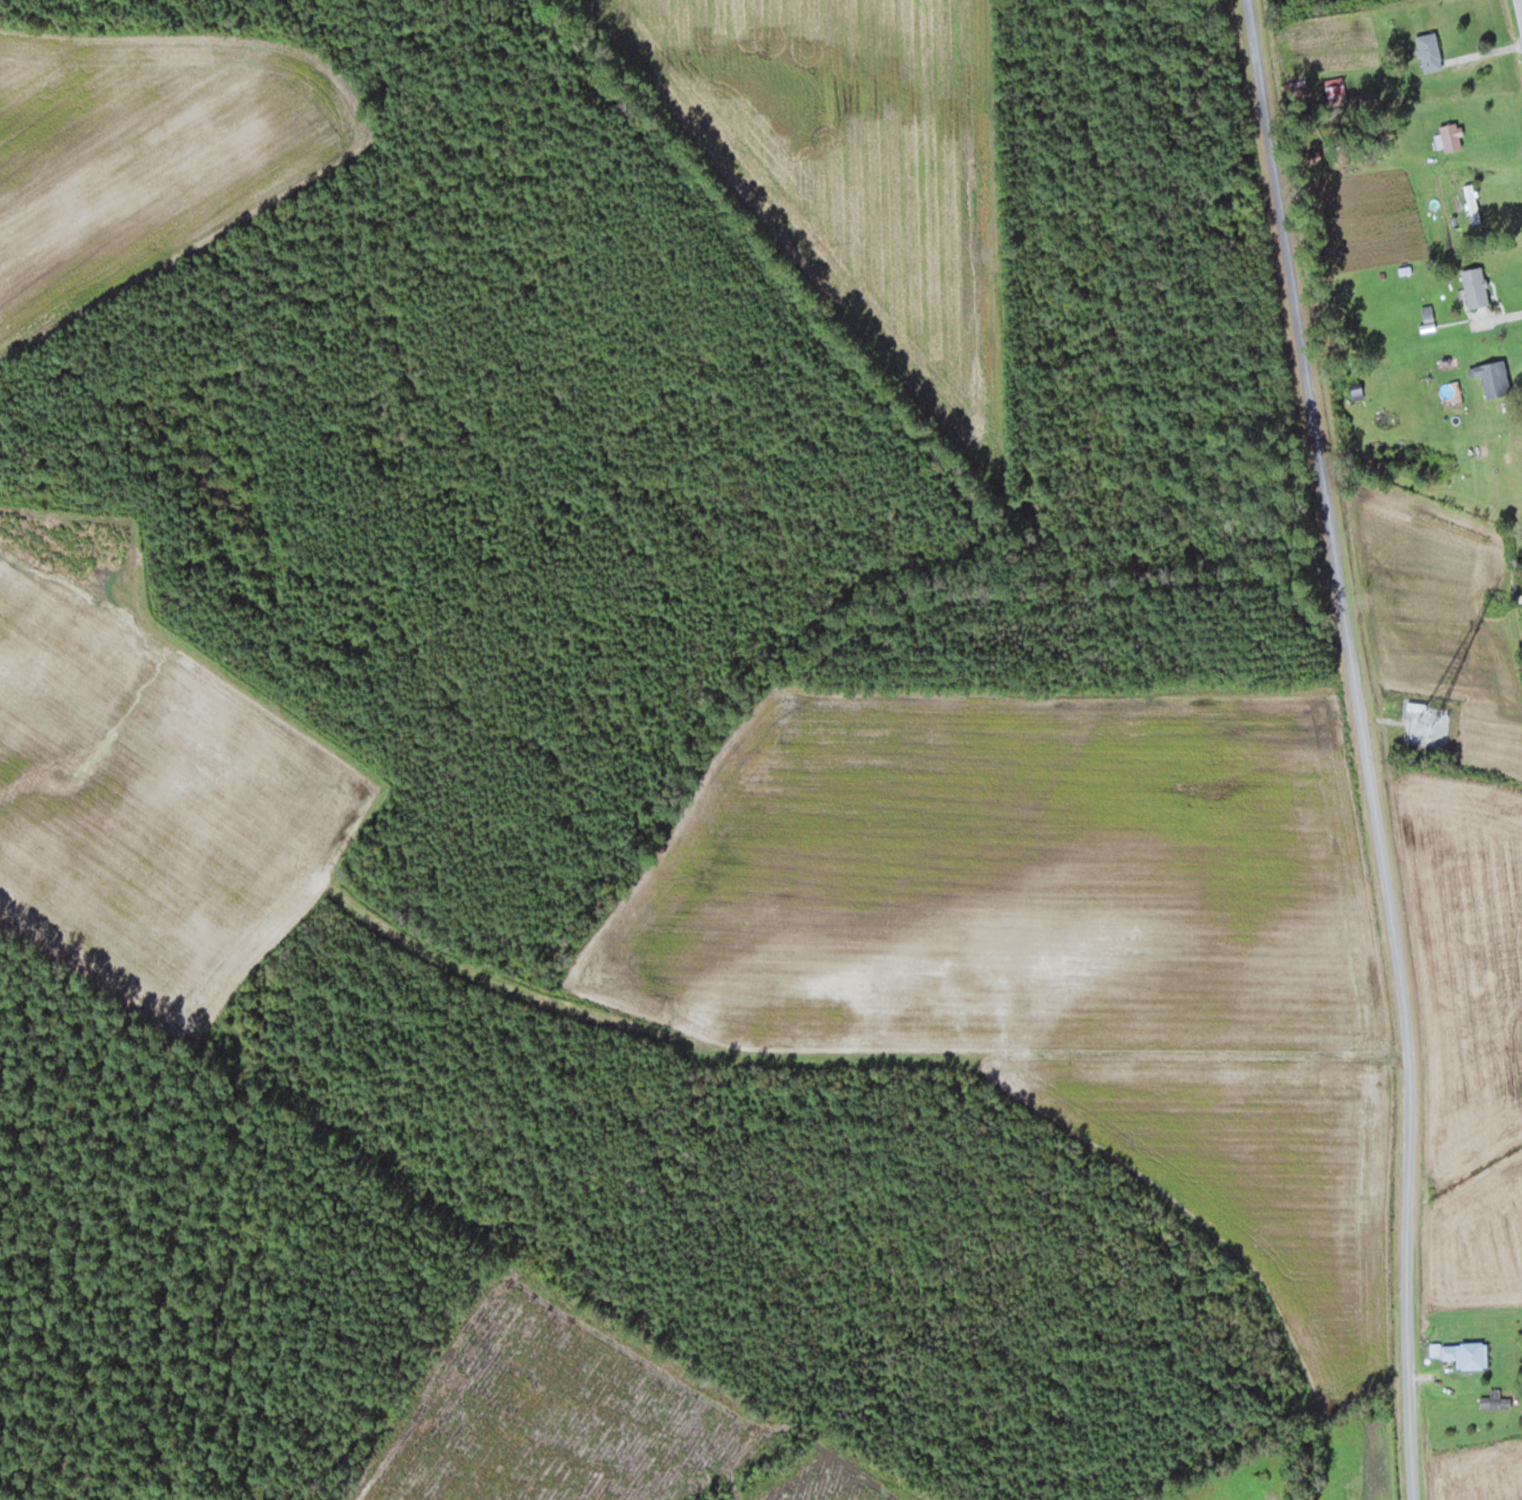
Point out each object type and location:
building: (1430, 51)
building: (1298, 88)
building: (1337, 89)
building: (1452, 136)
building: (1473, 203)
building: (1476, 286)
building: (1496, 378)
road: (1369, 747)
building: (1467, 1354)
building: (1499, 1399)

